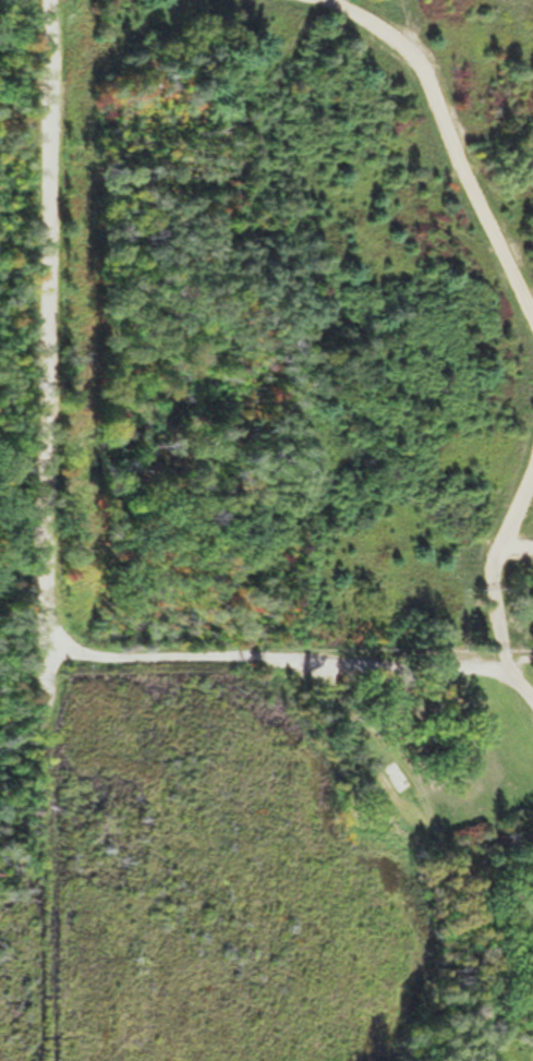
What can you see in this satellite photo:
road: (50, 358)
road: (300, 658)

